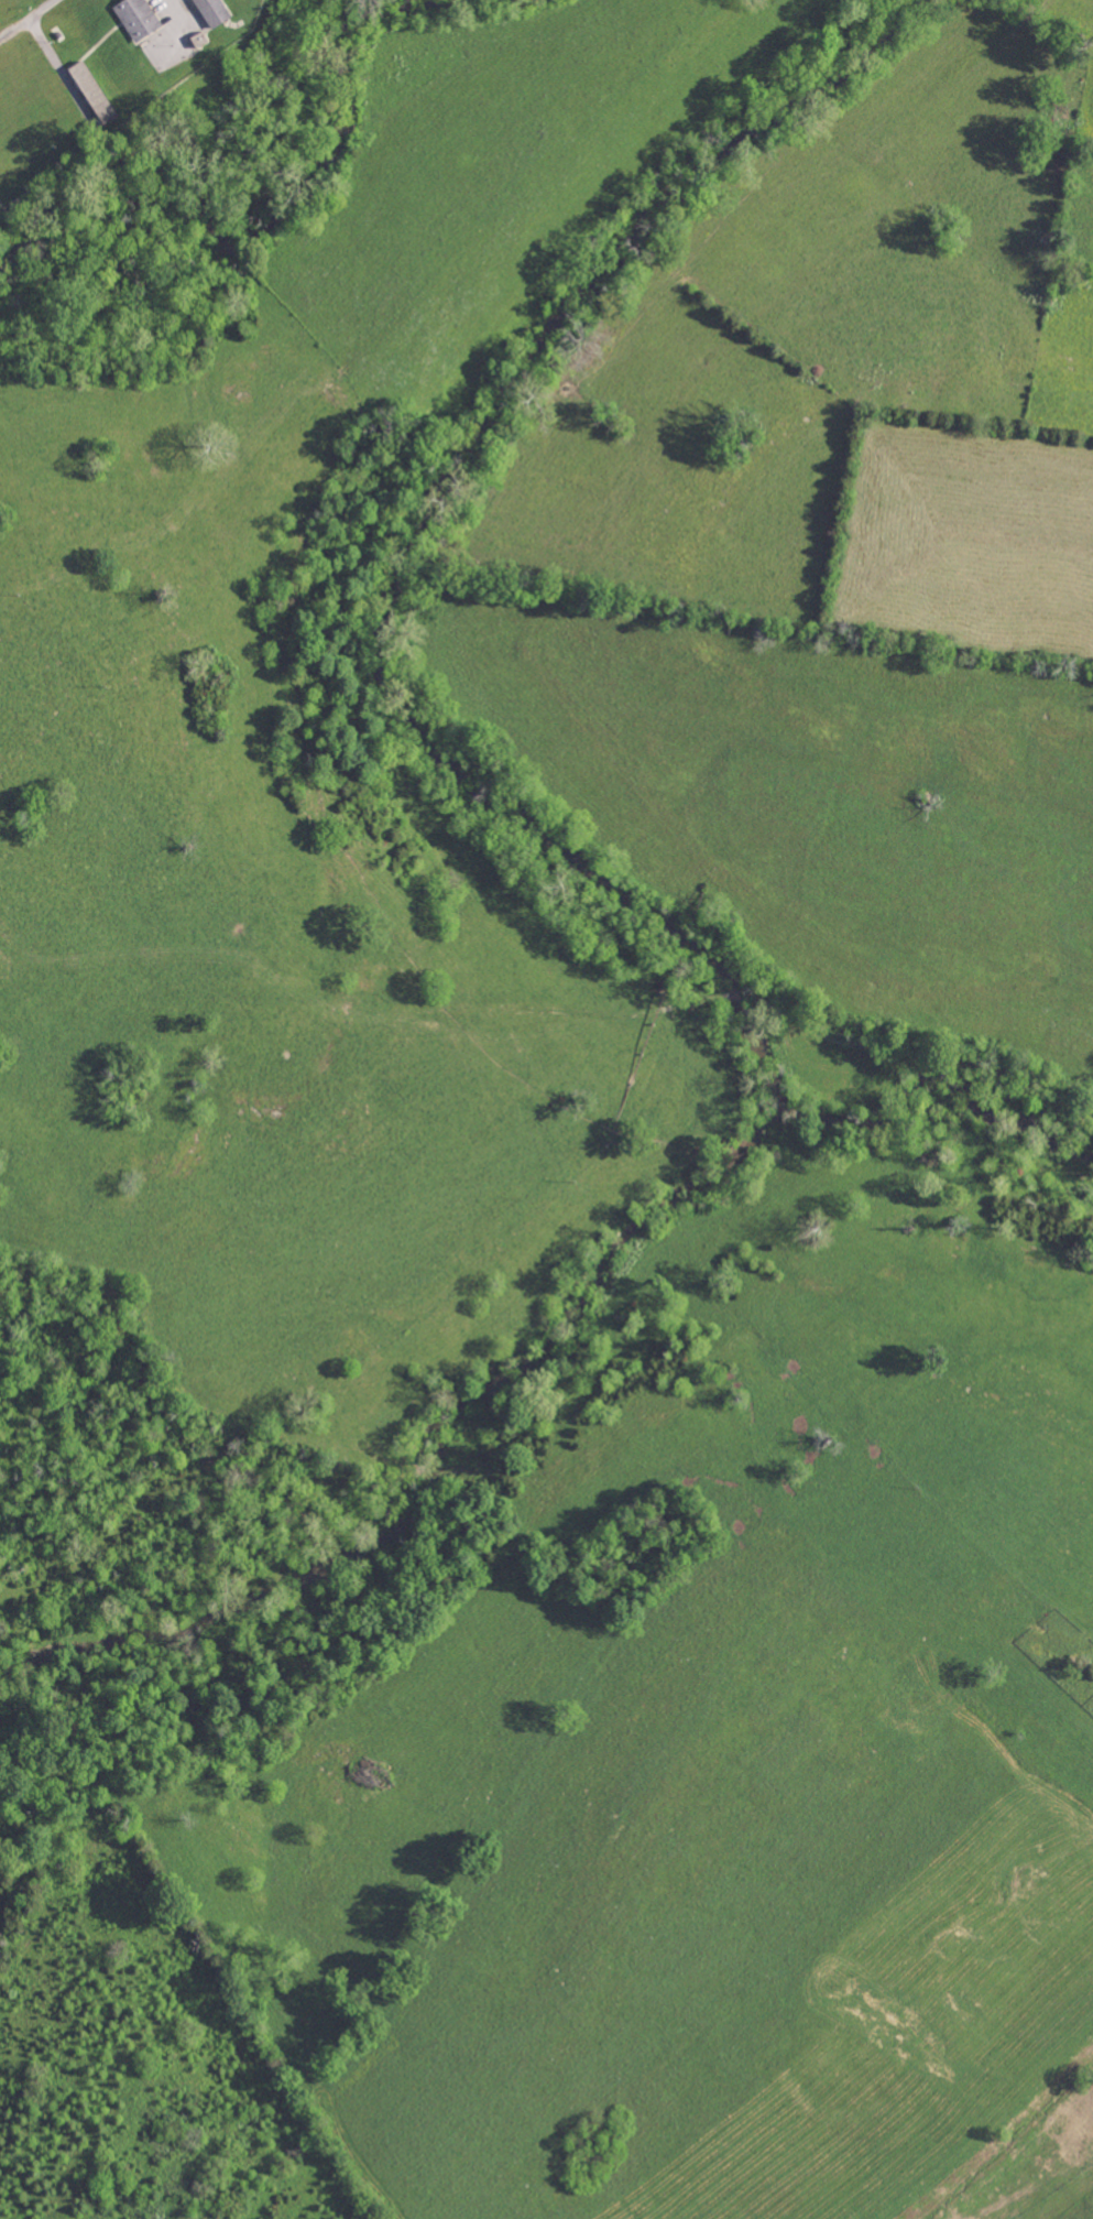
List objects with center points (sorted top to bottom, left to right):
building: (215, 11)
road: (26, 18)
building: (139, 18)
wastewater plant: (96, 70)
building: (94, 91)
crop: (1078, 217)

